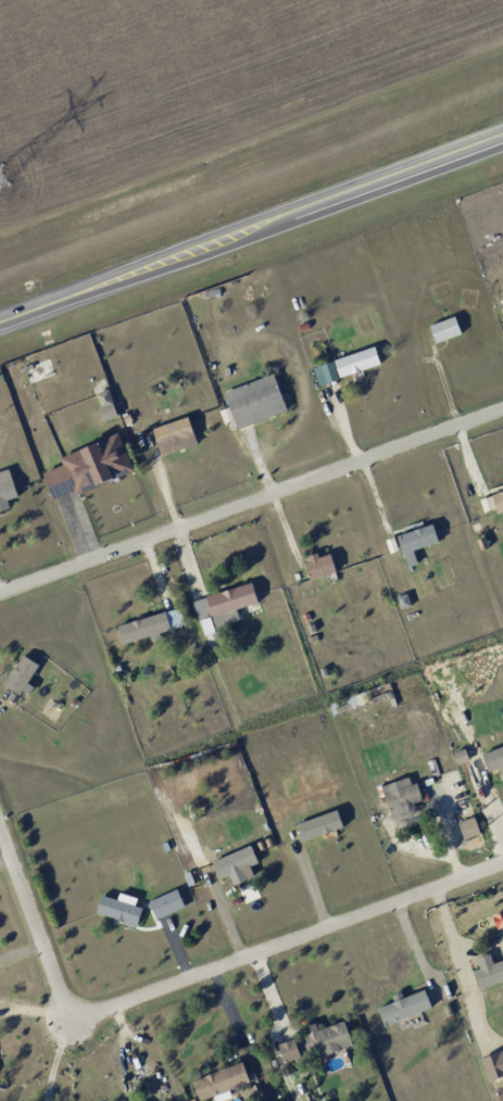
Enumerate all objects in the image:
power tower: (0, 177)
road: (251, 229)
building: (502, 298)
building: (444, 329)
building: (356, 362)
building: (325, 374)
building: (254, 401)
building: (105, 404)
building: (175, 435)
building: (89, 467)
building: (7, 493)
road: (251, 499)
building: (498, 499)
building: (416, 542)
building: (319, 566)
building: (223, 606)
building: (150, 625)
building: (22, 675)
building: (493, 759)
building: (401, 794)
building: (319, 825)
building: (468, 827)
building: (235, 861)
building: (166, 903)
building: (120, 908)
road: (458, 960)
building: (488, 971)
road: (186, 977)
building: (404, 1008)
road: (231, 1022)
building: (324, 1038)
building: (289, 1050)
road: (54, 1059)
building: (493, 1065)
building: (221, 1081)

